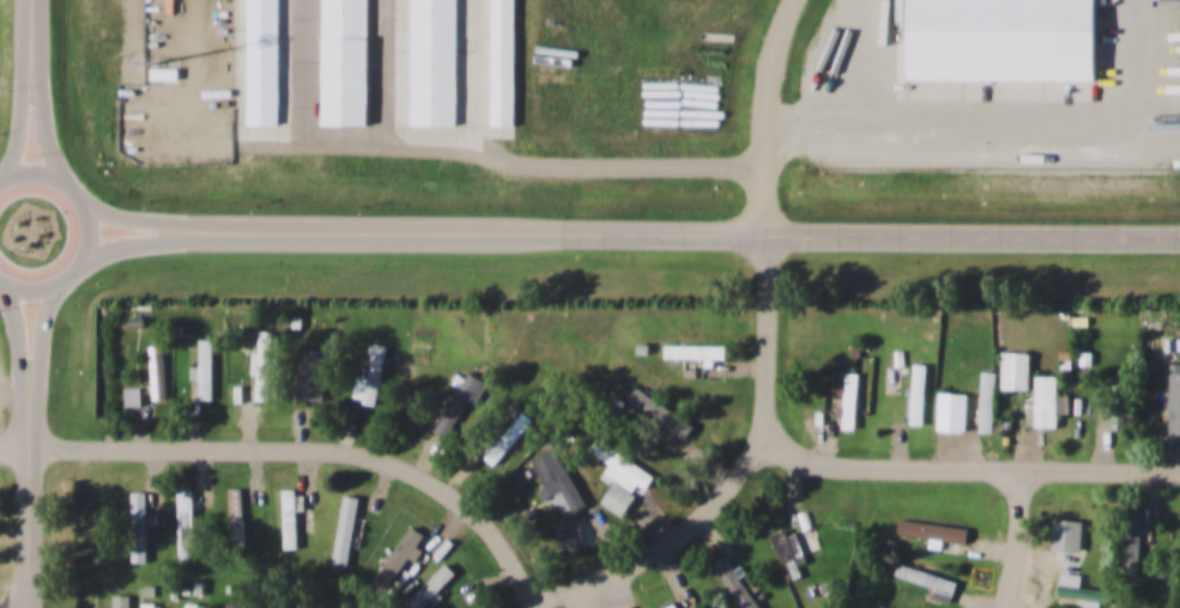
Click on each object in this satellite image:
road: (30, 32)
building: (265, 61)
building: (347, 61)
building: (436, 61)
building: (504, 62)
road: (763, 113)
road: (20, 122)
road: (42, 128)
road: (552, 166)
road: (127, 220)
road: (90, 229)
road: (677, 231)
road: (123, 241)
road: (41, 322)
road: (20, 327)
road: (771, 342)
building: (697, 351)
building: (264, 366)
building: (205, 367)
building: (159, 371)
building: (313, 376)
building: (371, 378)
building: (920, 393)
building: (849, 397)
building: (1174, 399)
building: (1120, 400)
building: (1047, 402)
building: (459, 405)
building: (987, 405)
building: (662, 411)
building: (509, 437)
road: (320, 451)
road: (976, 466)
building: (622, 476)
building: (561, 480)
road: (31, 490)
building: (235, 517)
building: (291, 518)
building: (187, 524)
building: (139, 525)
building: (346, 529)
building: (934, 531)
building: (1069, 534)
road: (1023, 537)
building: (1133, 540)
road: (662, 542)
building: (789, 553)
building: (400, 558)
building: (928, 579)
building: (736, 583)
building: (432, 586)
building: (1083, 591)
building: (121, 601)
building: (235, 604)
building: (150, 606)
building: (195, 606)
building: (674, 606)
building: (295, 607)

